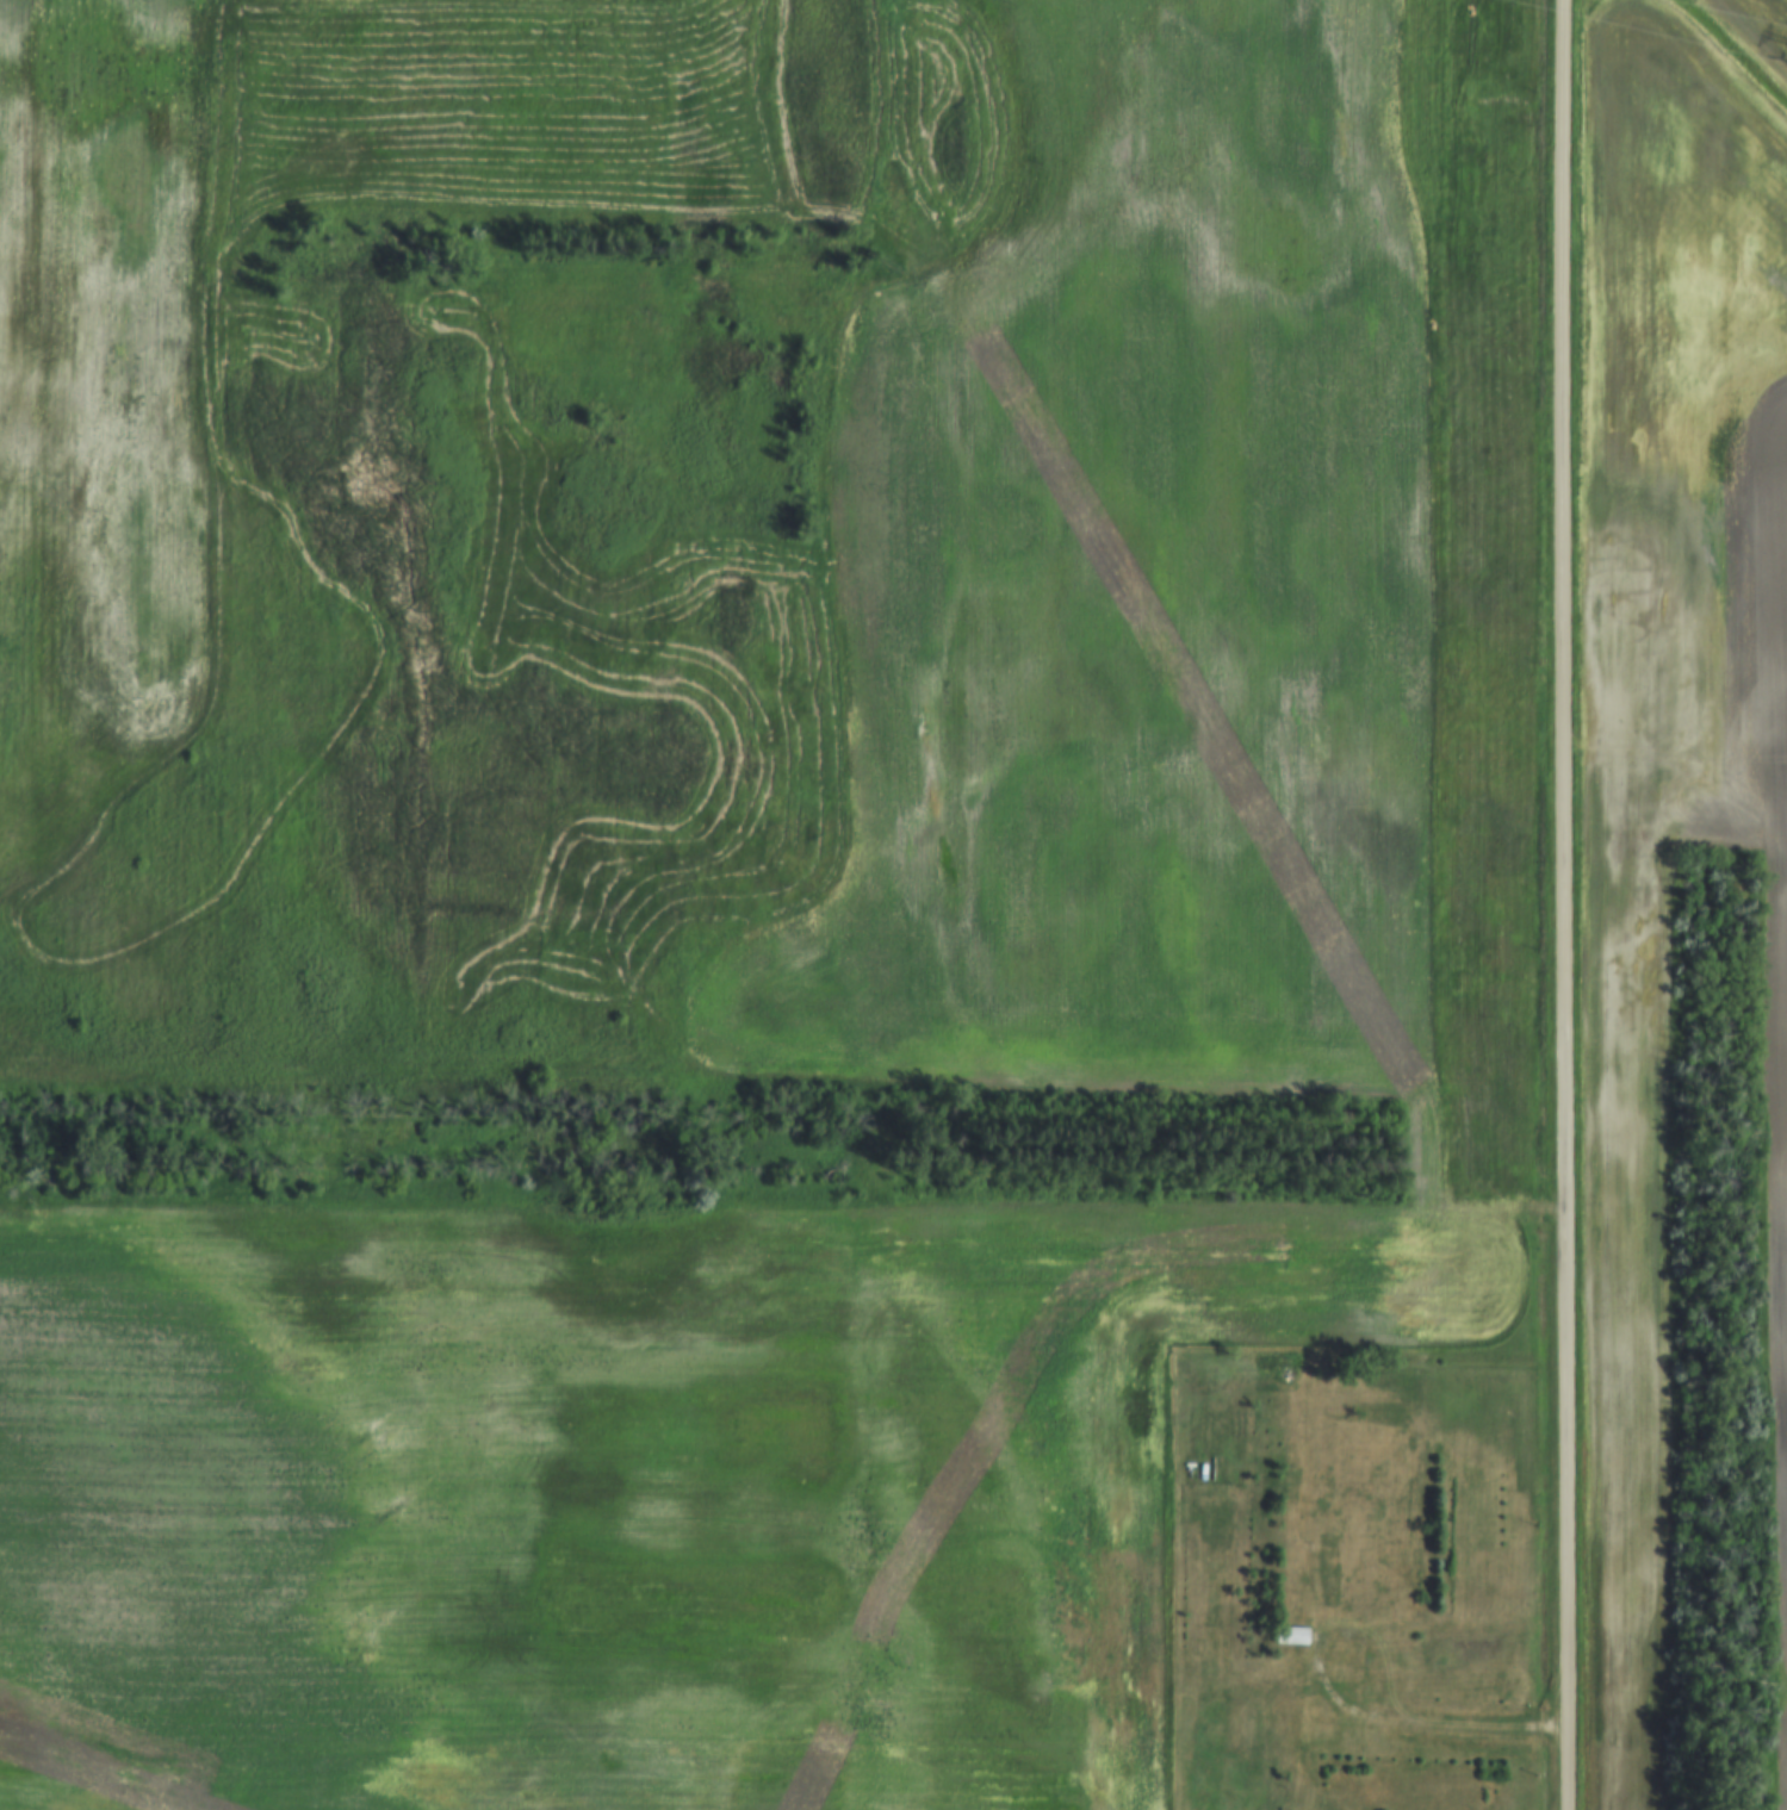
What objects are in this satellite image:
road: (1570, 904)
building: (1329, 1570)
building: (1291, 1636)
road: (1355, 1710)

